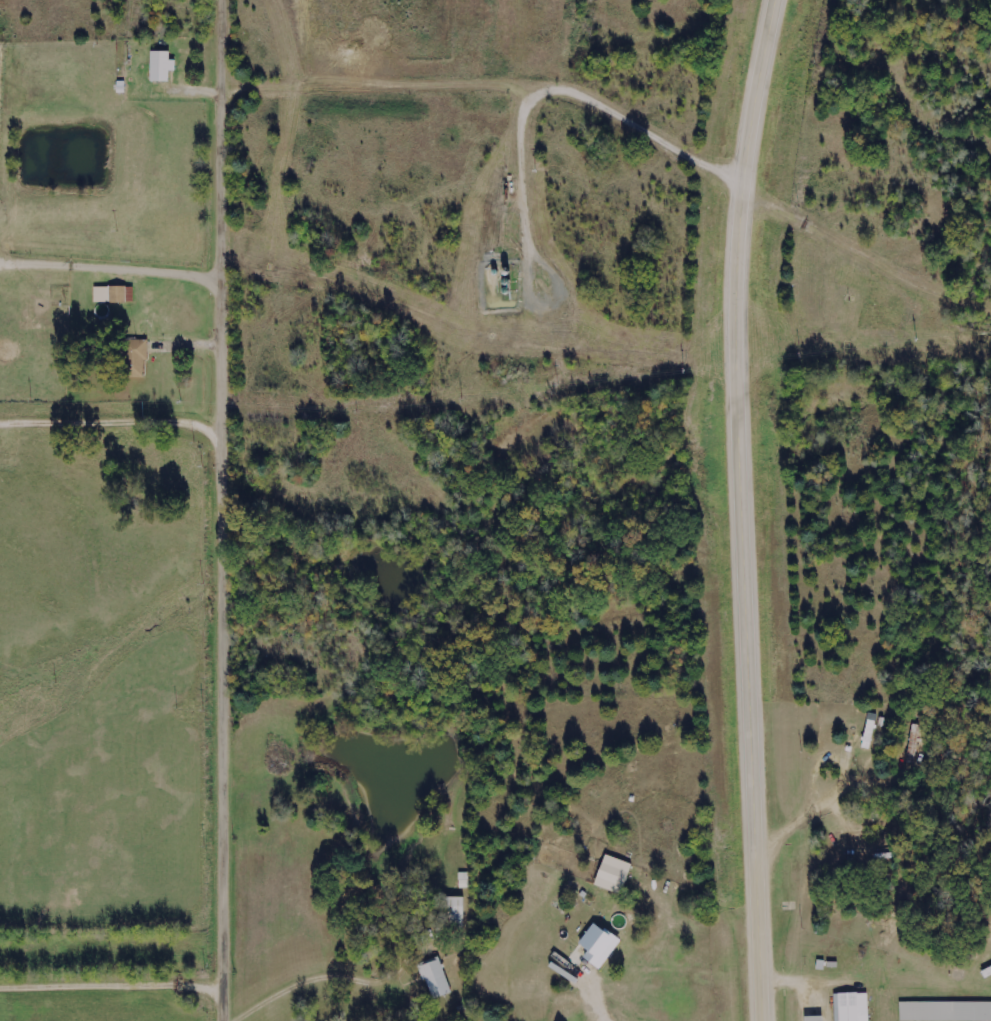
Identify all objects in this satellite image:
building: (161, 66)
building: (113, 295)
building: (132, 358)
road: (742, 509)
road: (229, 510)
building: (612, 874)
building: (598, 946)
building: (435, 978)
road: (115, 980)
building: (851, 1007)
building: (945, 1011)
building: (813, 1019)

